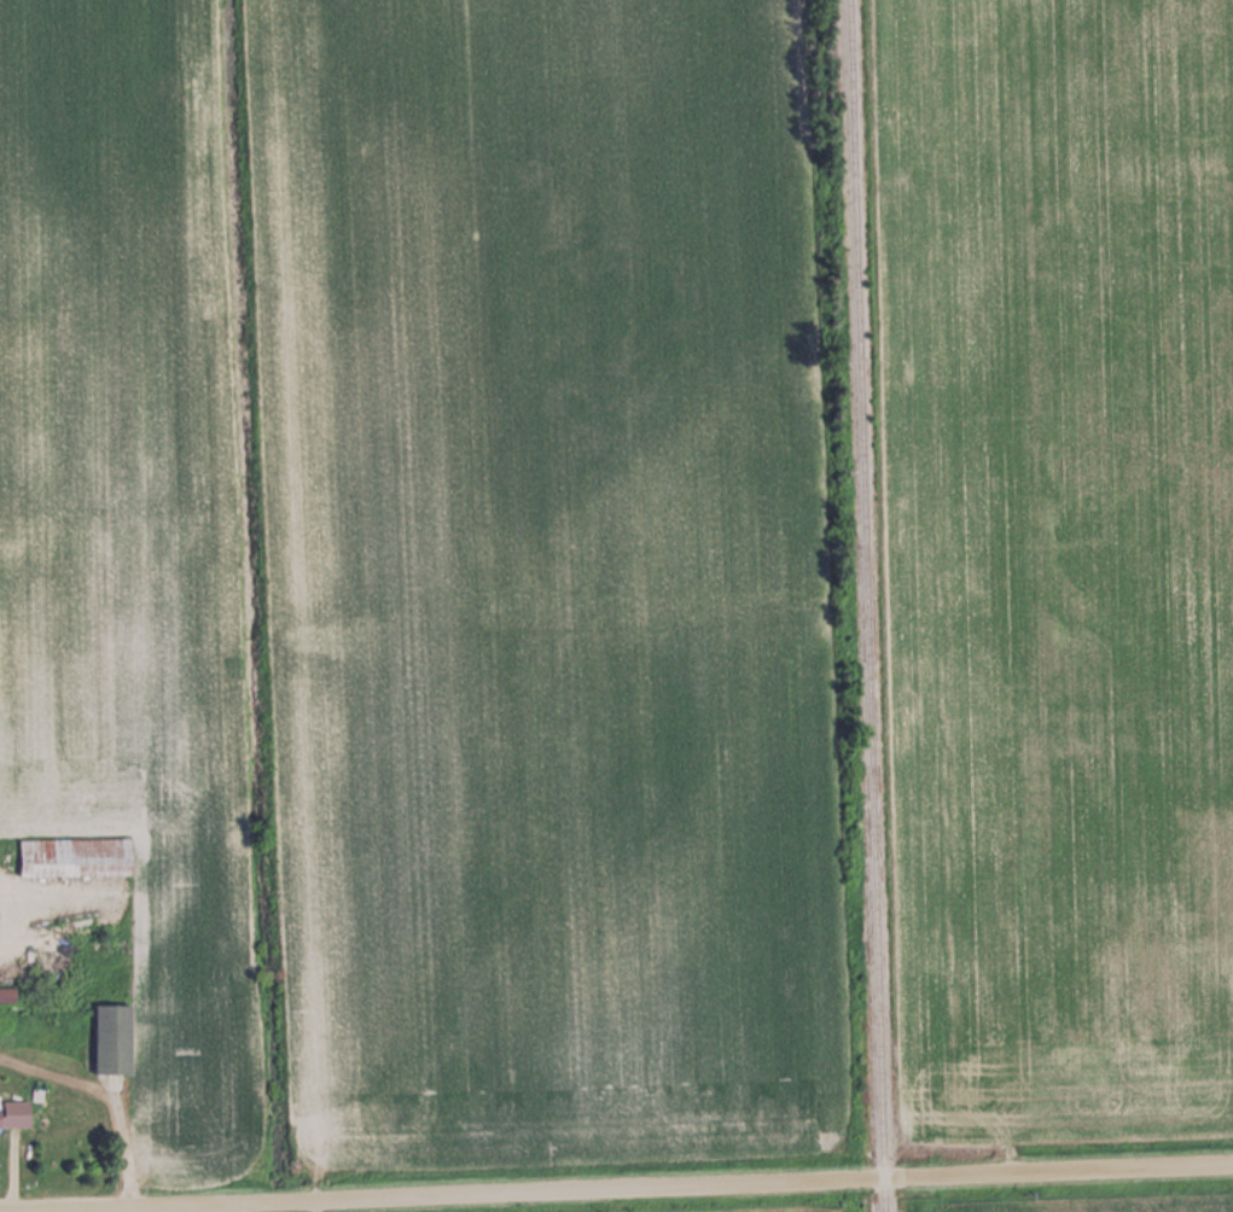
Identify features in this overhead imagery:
railway: (868, 605)
building: (74, 856)
building: (6, 995)
building: (111, 1039)
building: (13, 1113)
road: (638, 1185)

